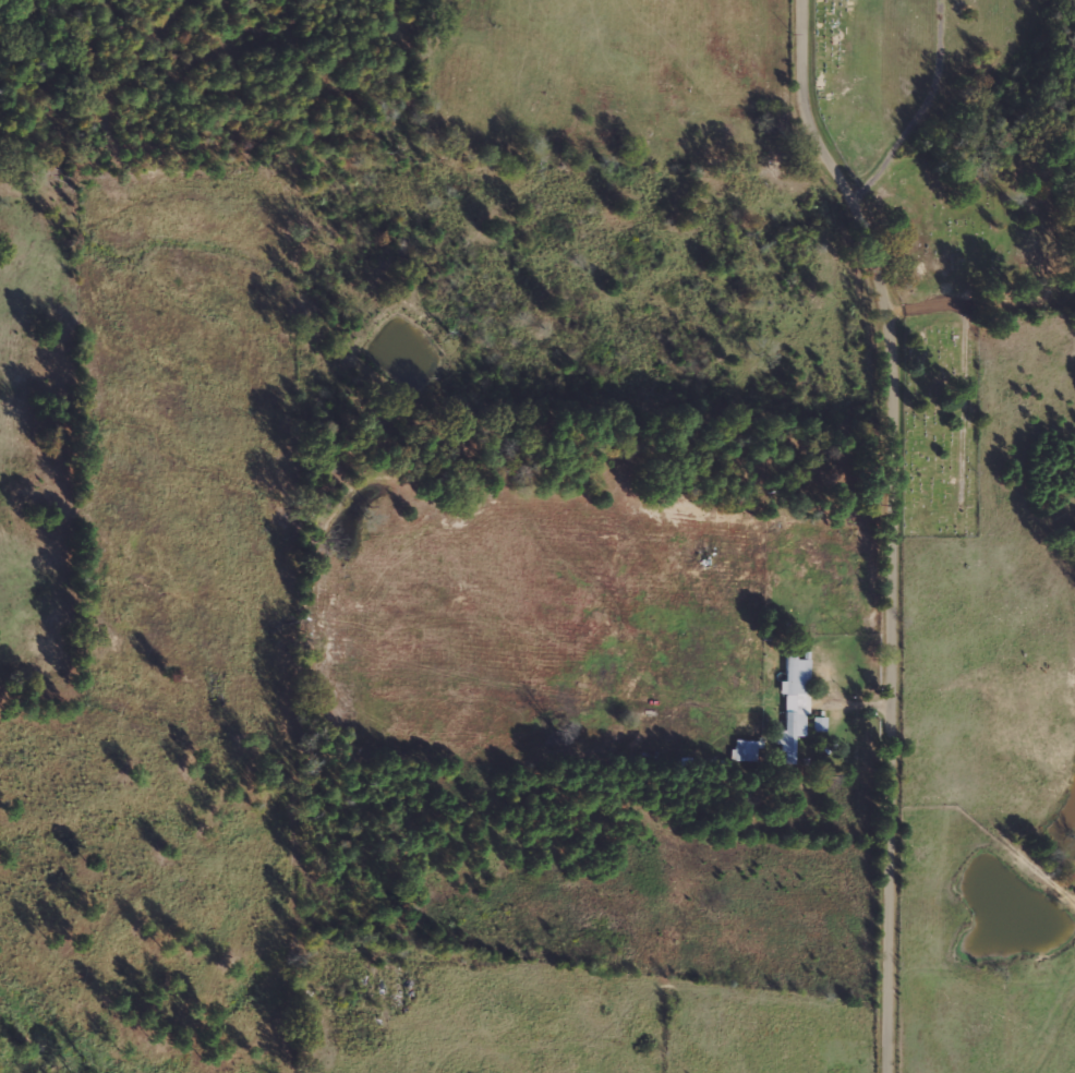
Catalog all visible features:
road: (581, 40)
road: (840, 184)
park: (943, 205)
building: (793, 709)
road: (893, 722)
building: (745, 750)
road: (1048, 1017)

